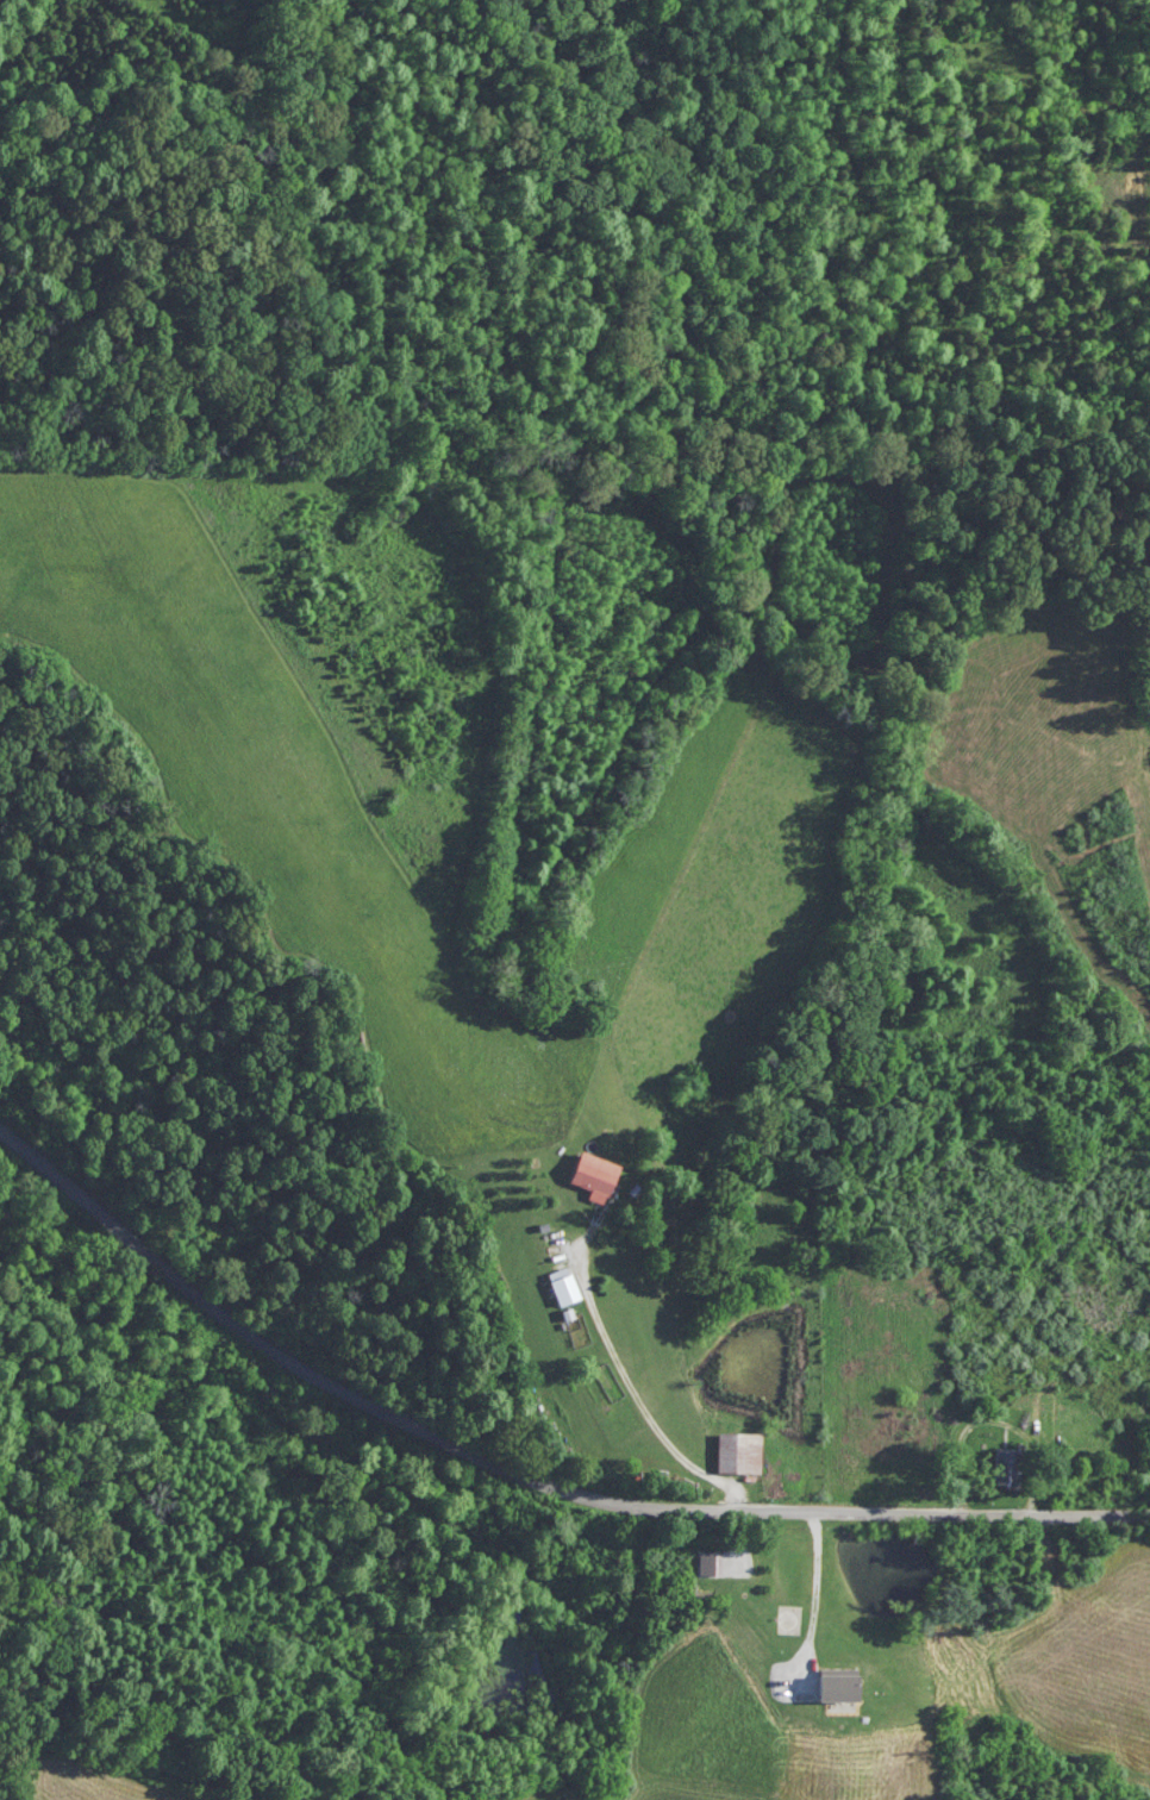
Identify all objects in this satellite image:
building: (594, 1177)
building: (564, 1290)
road: (644, 1410)
road: (994, 1423)
building: (740, 1455)
building: (1002, 1469)
road: (523, 1477)
road: (745, 1539)
building: (712, 1563)
road: (813, 1596)
building: (839, 1689)

